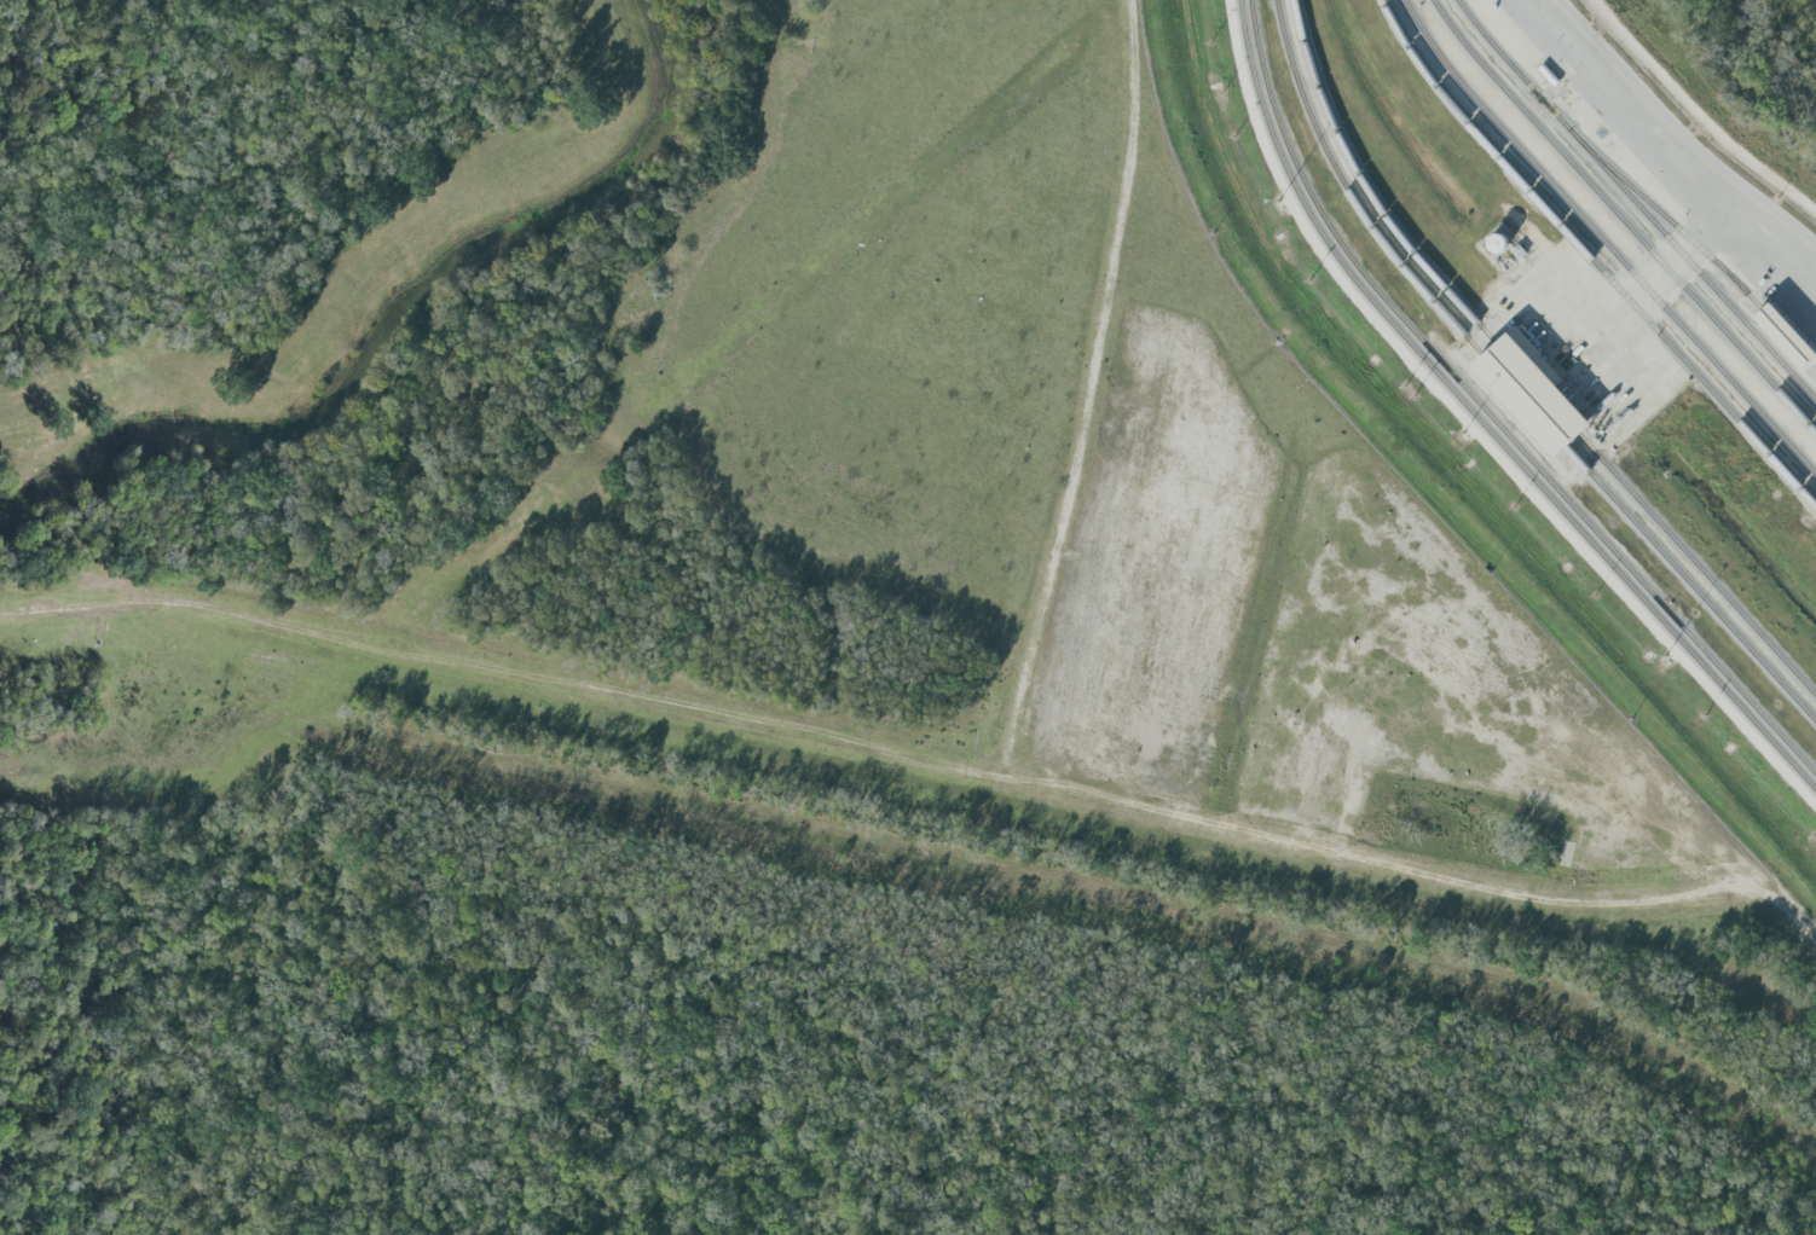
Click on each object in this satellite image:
road: (1698, 116)
road: (1665, 155)
river: (395, 319)
building: (1783, 336)
building: (1521, 393)
road: (1083, 394)
railway: (1487, 413)
railway: (1479, 424)
road: (912, 765)

